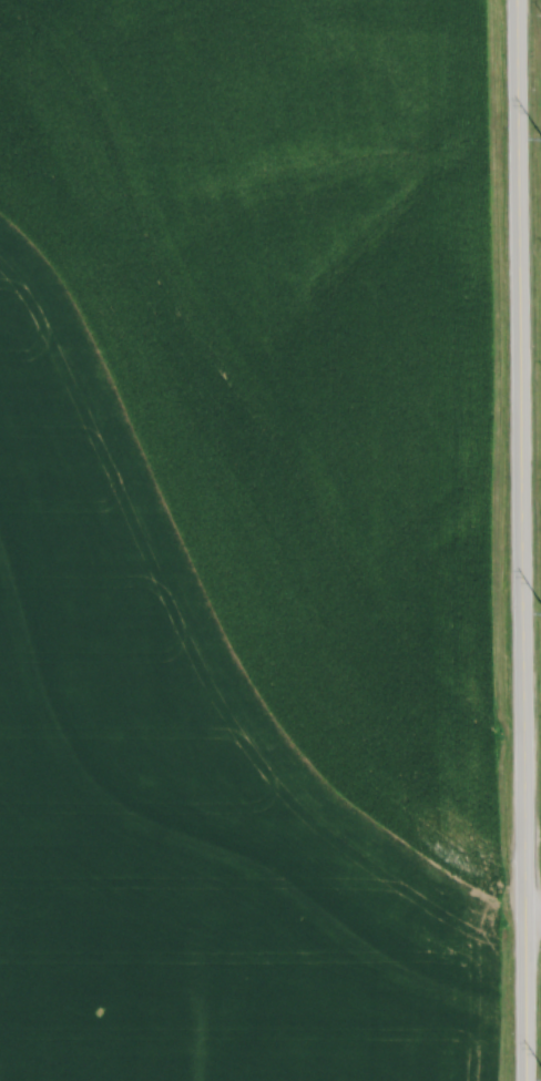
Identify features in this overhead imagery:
road: (520, 540)
crop: (255, 542)
road: (532, 915)

